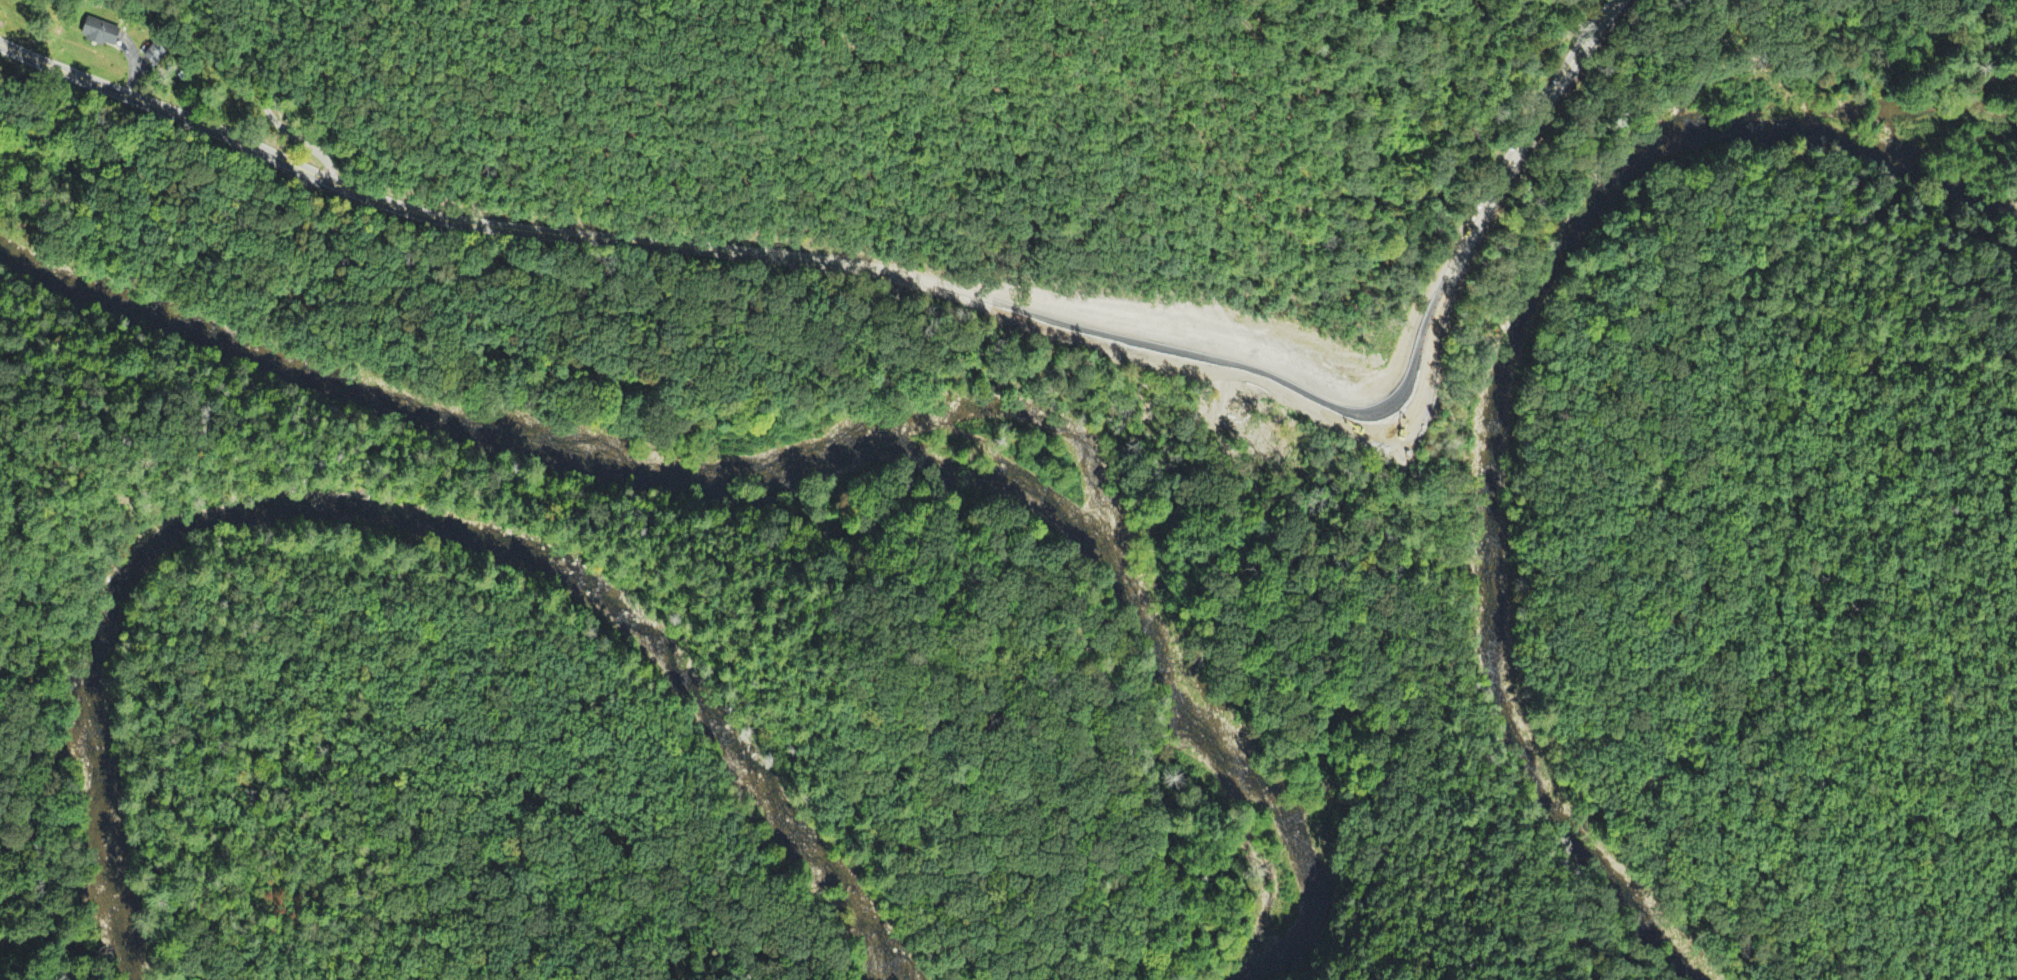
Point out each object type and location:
building: (101, 30)
building: (155, 52)
road: (265, 102)
road: (939, 292)

